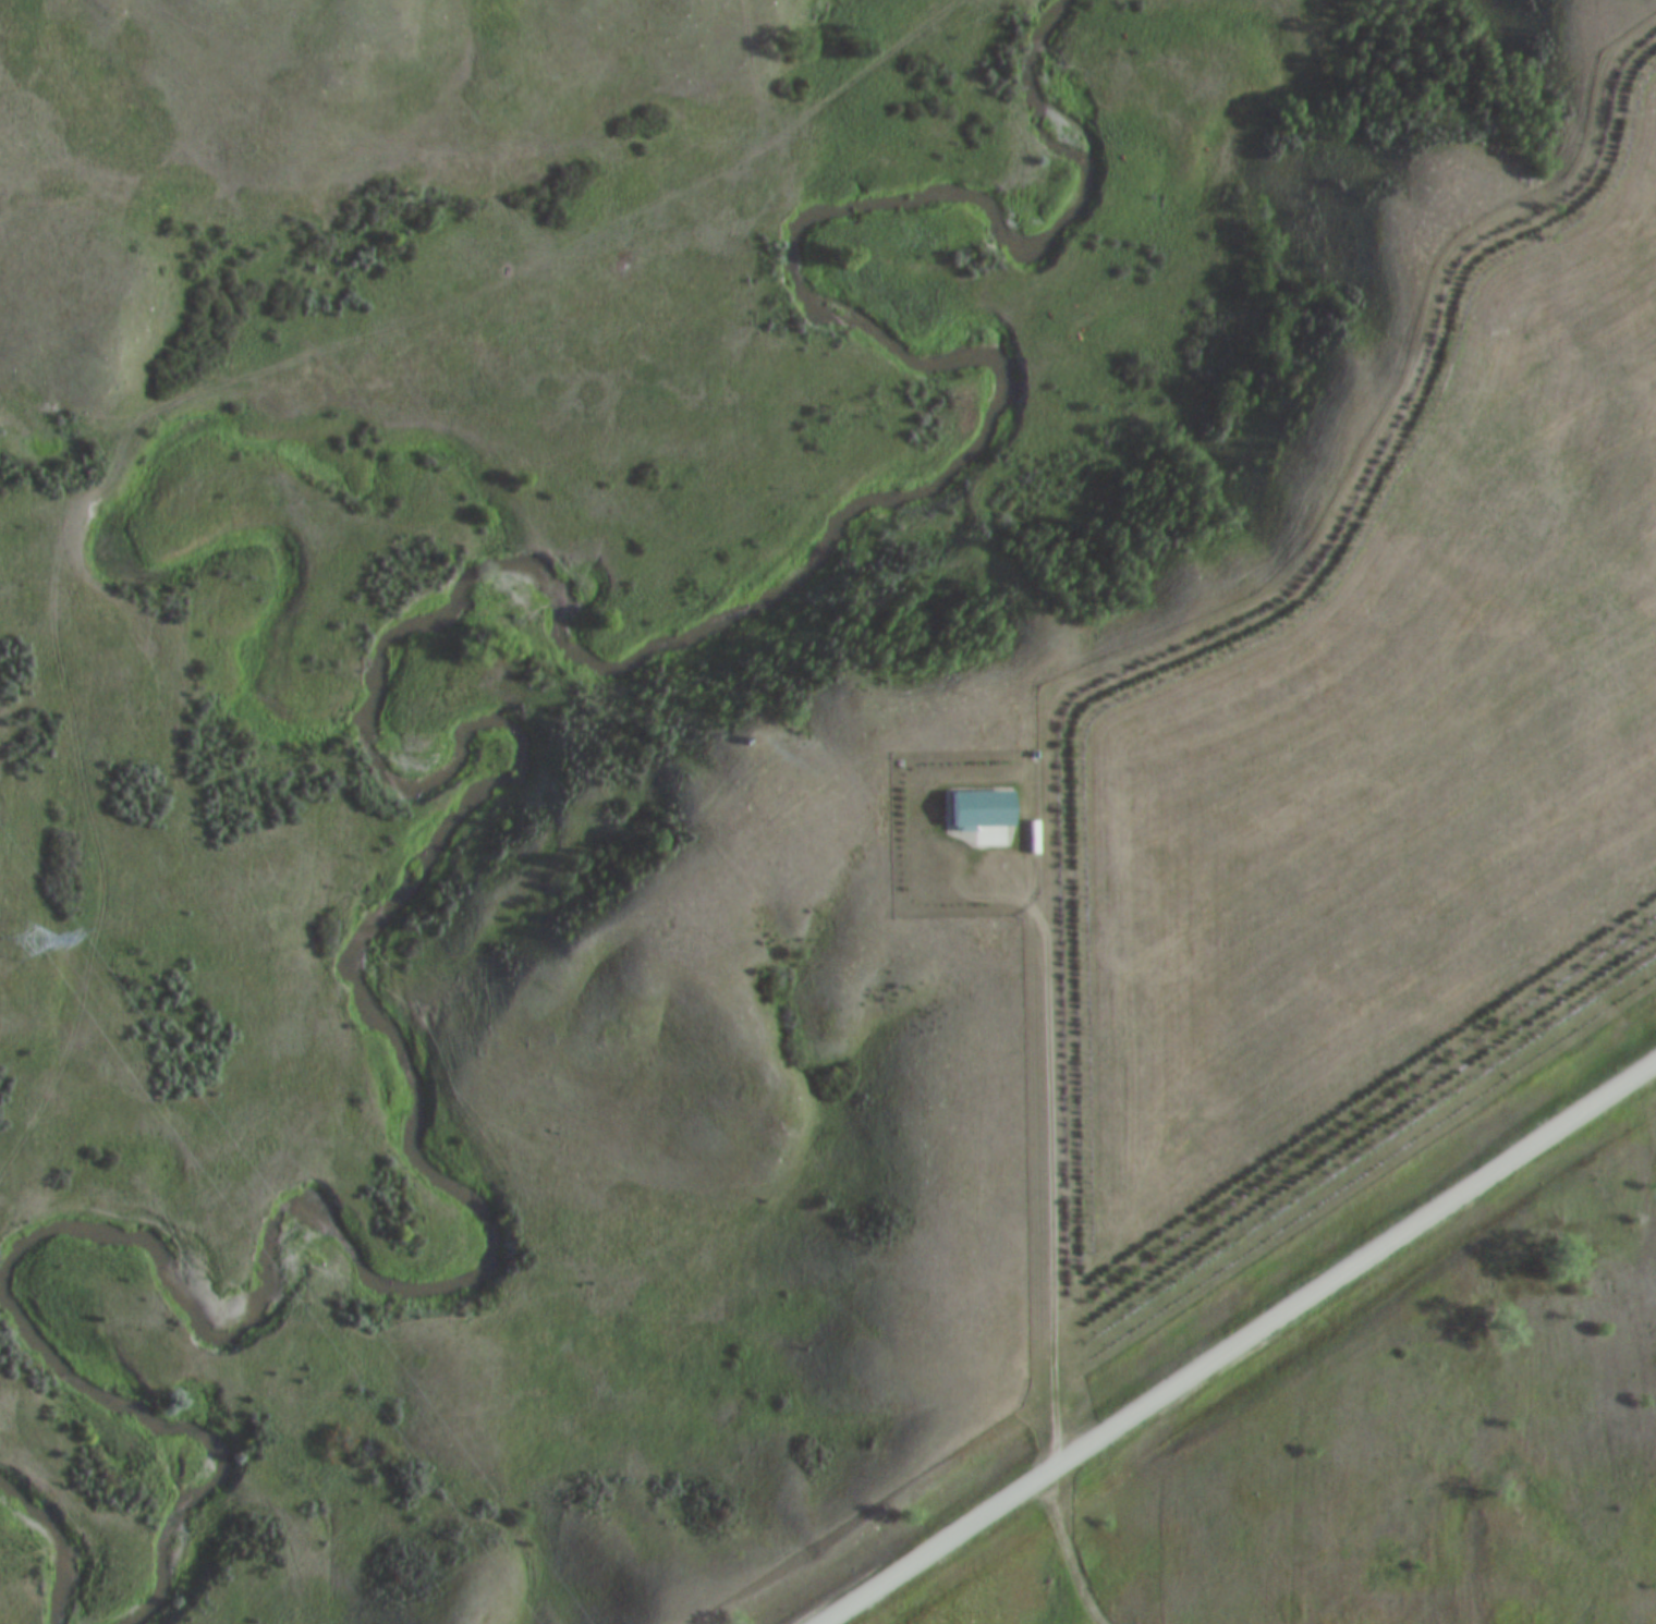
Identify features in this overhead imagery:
building: (978, 801)
power tower: (7, 945)
road: (1242, 1341)
road: (1077, 1551)

